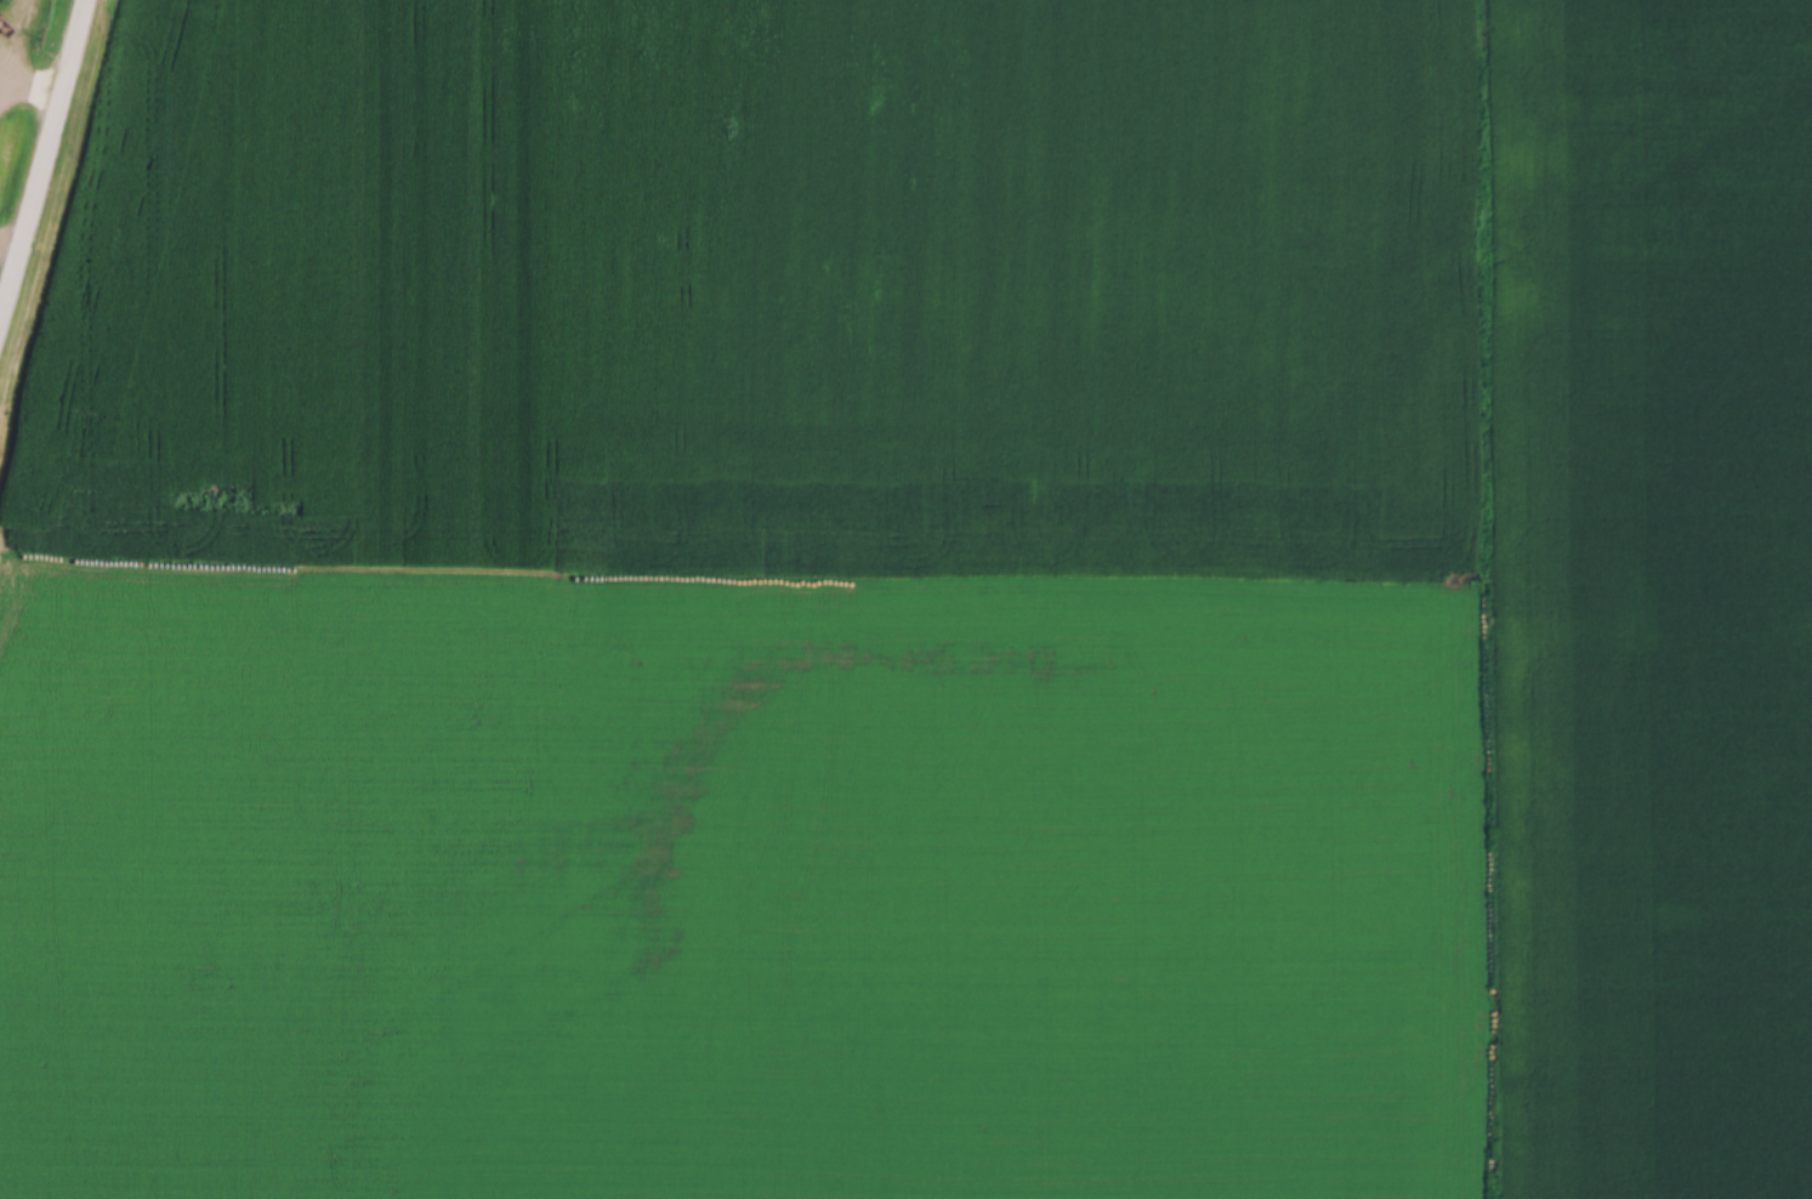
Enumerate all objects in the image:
road: (49, 161)

